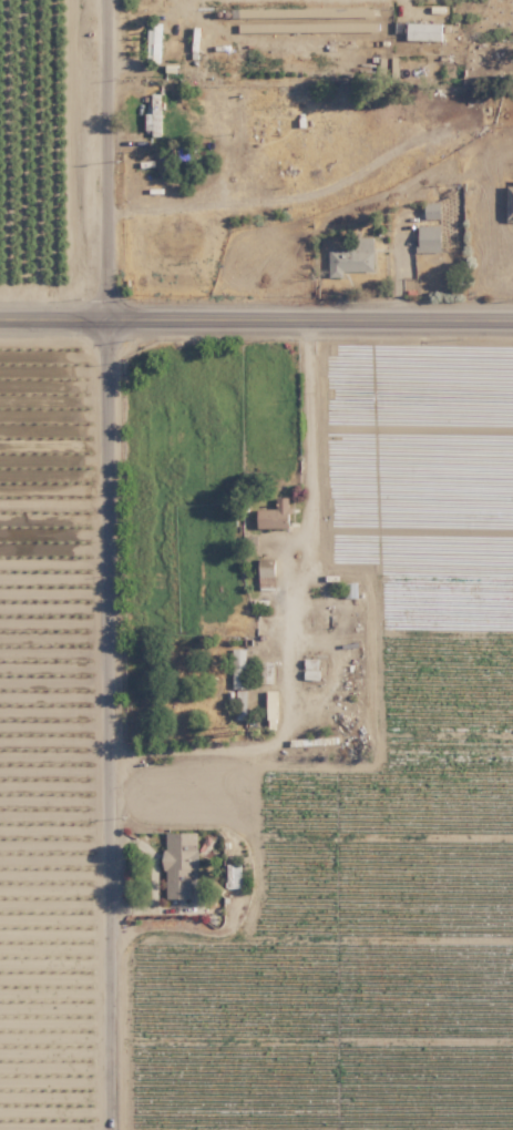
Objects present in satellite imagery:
building: (423, 31)
building: (153, 42)
building: (152, 114)
crop: (37, 135)
building: (509, 203)
building: (431, 210)
building: (428, 238)
building: (352, 258)
road: (256, 315)
road: (55, 502)
building: (274, 515)
road: (306, 517)
road: (111, 564)
building: (237, 668)
building: (239, 704)
building: (178, 863)
building: (232, 875)

